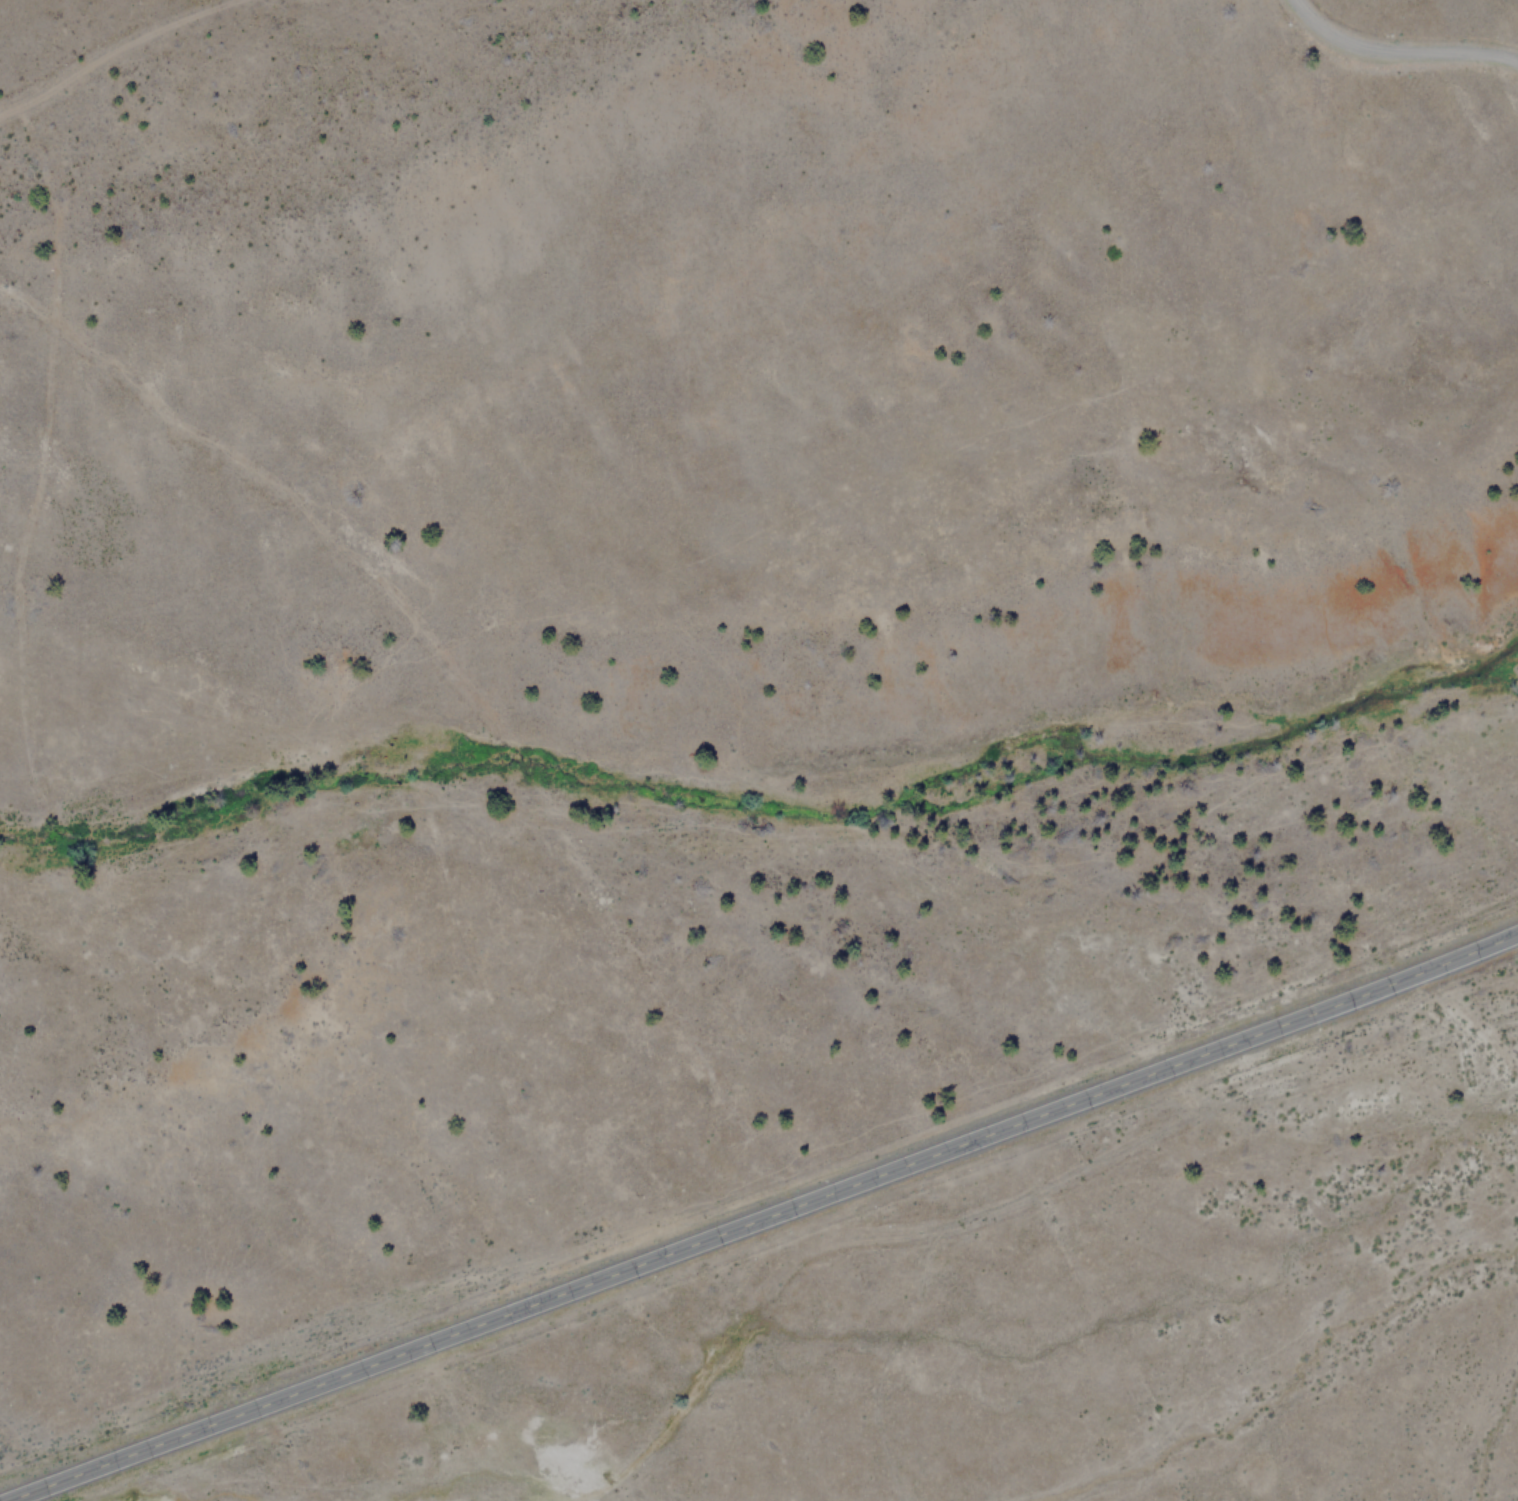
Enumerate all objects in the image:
road: (1397, 51)
road: (761, 1218)

